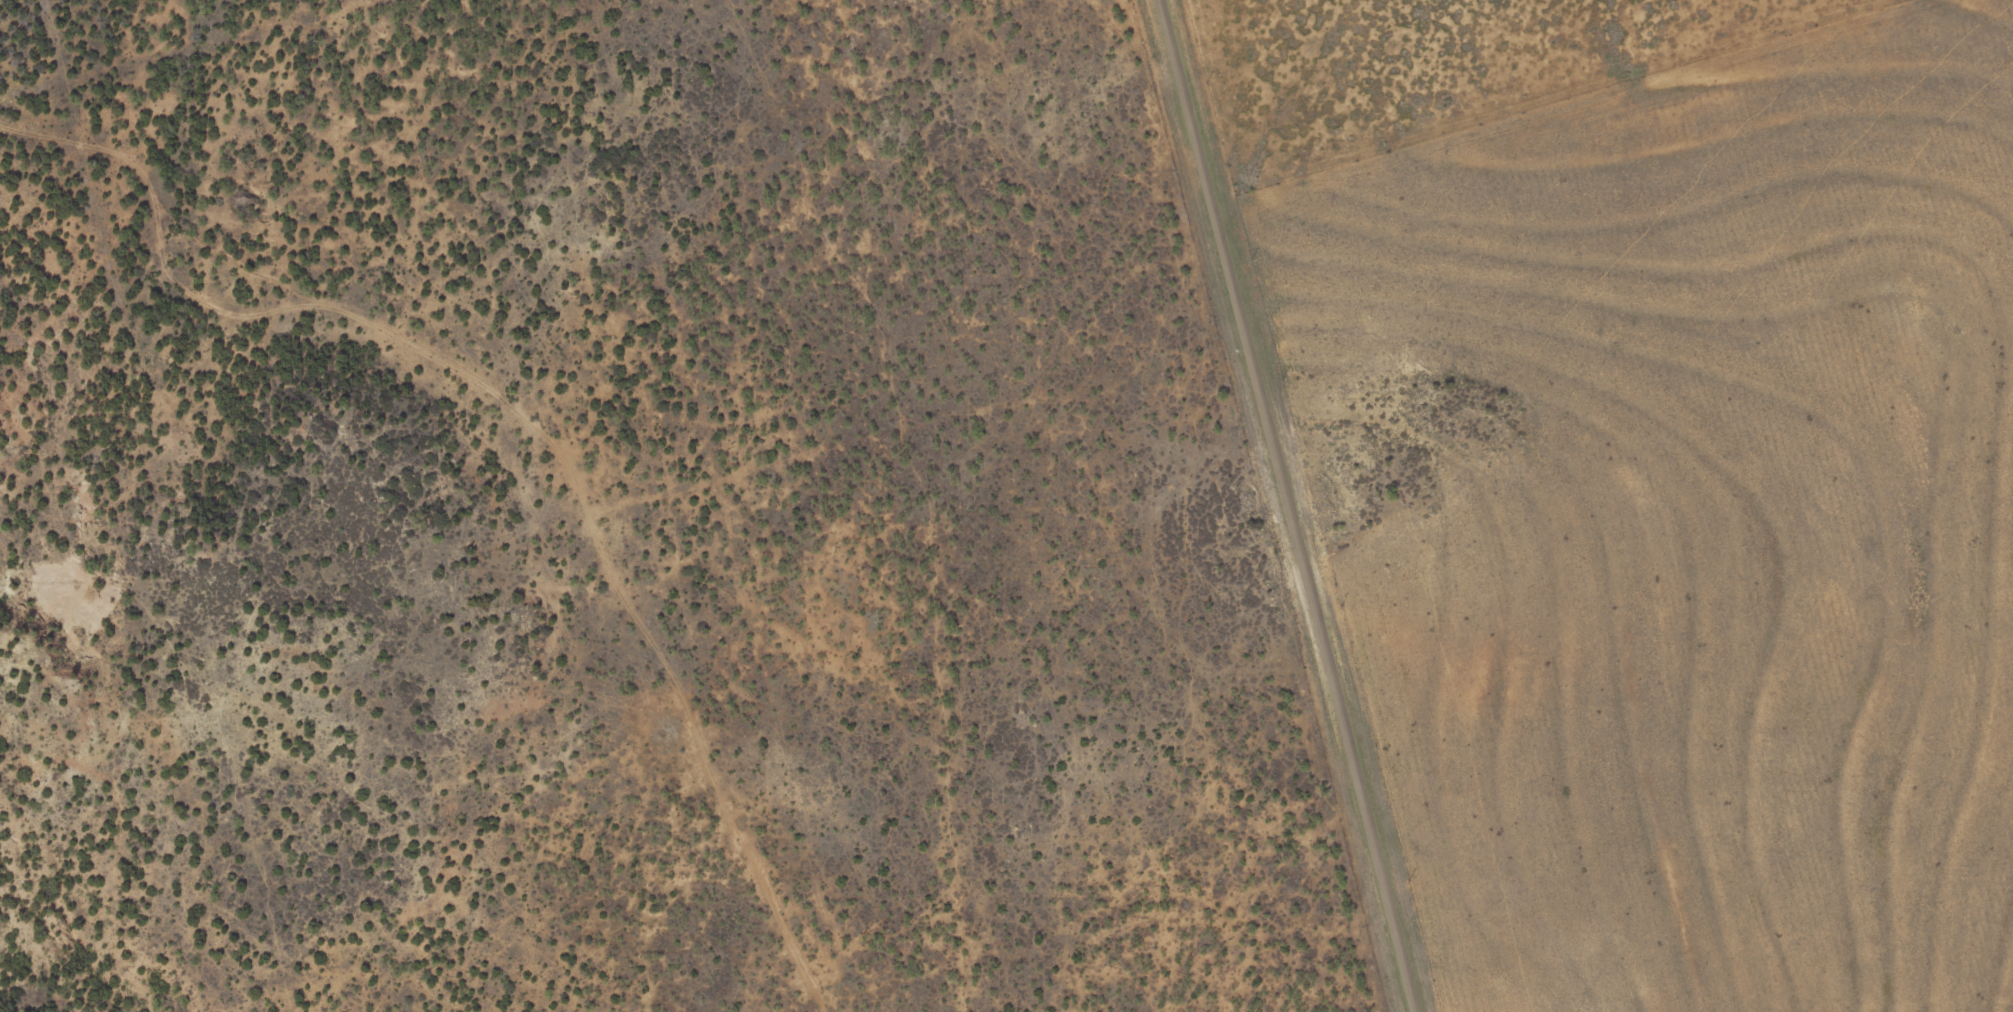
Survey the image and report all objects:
road: (1289, 506)

